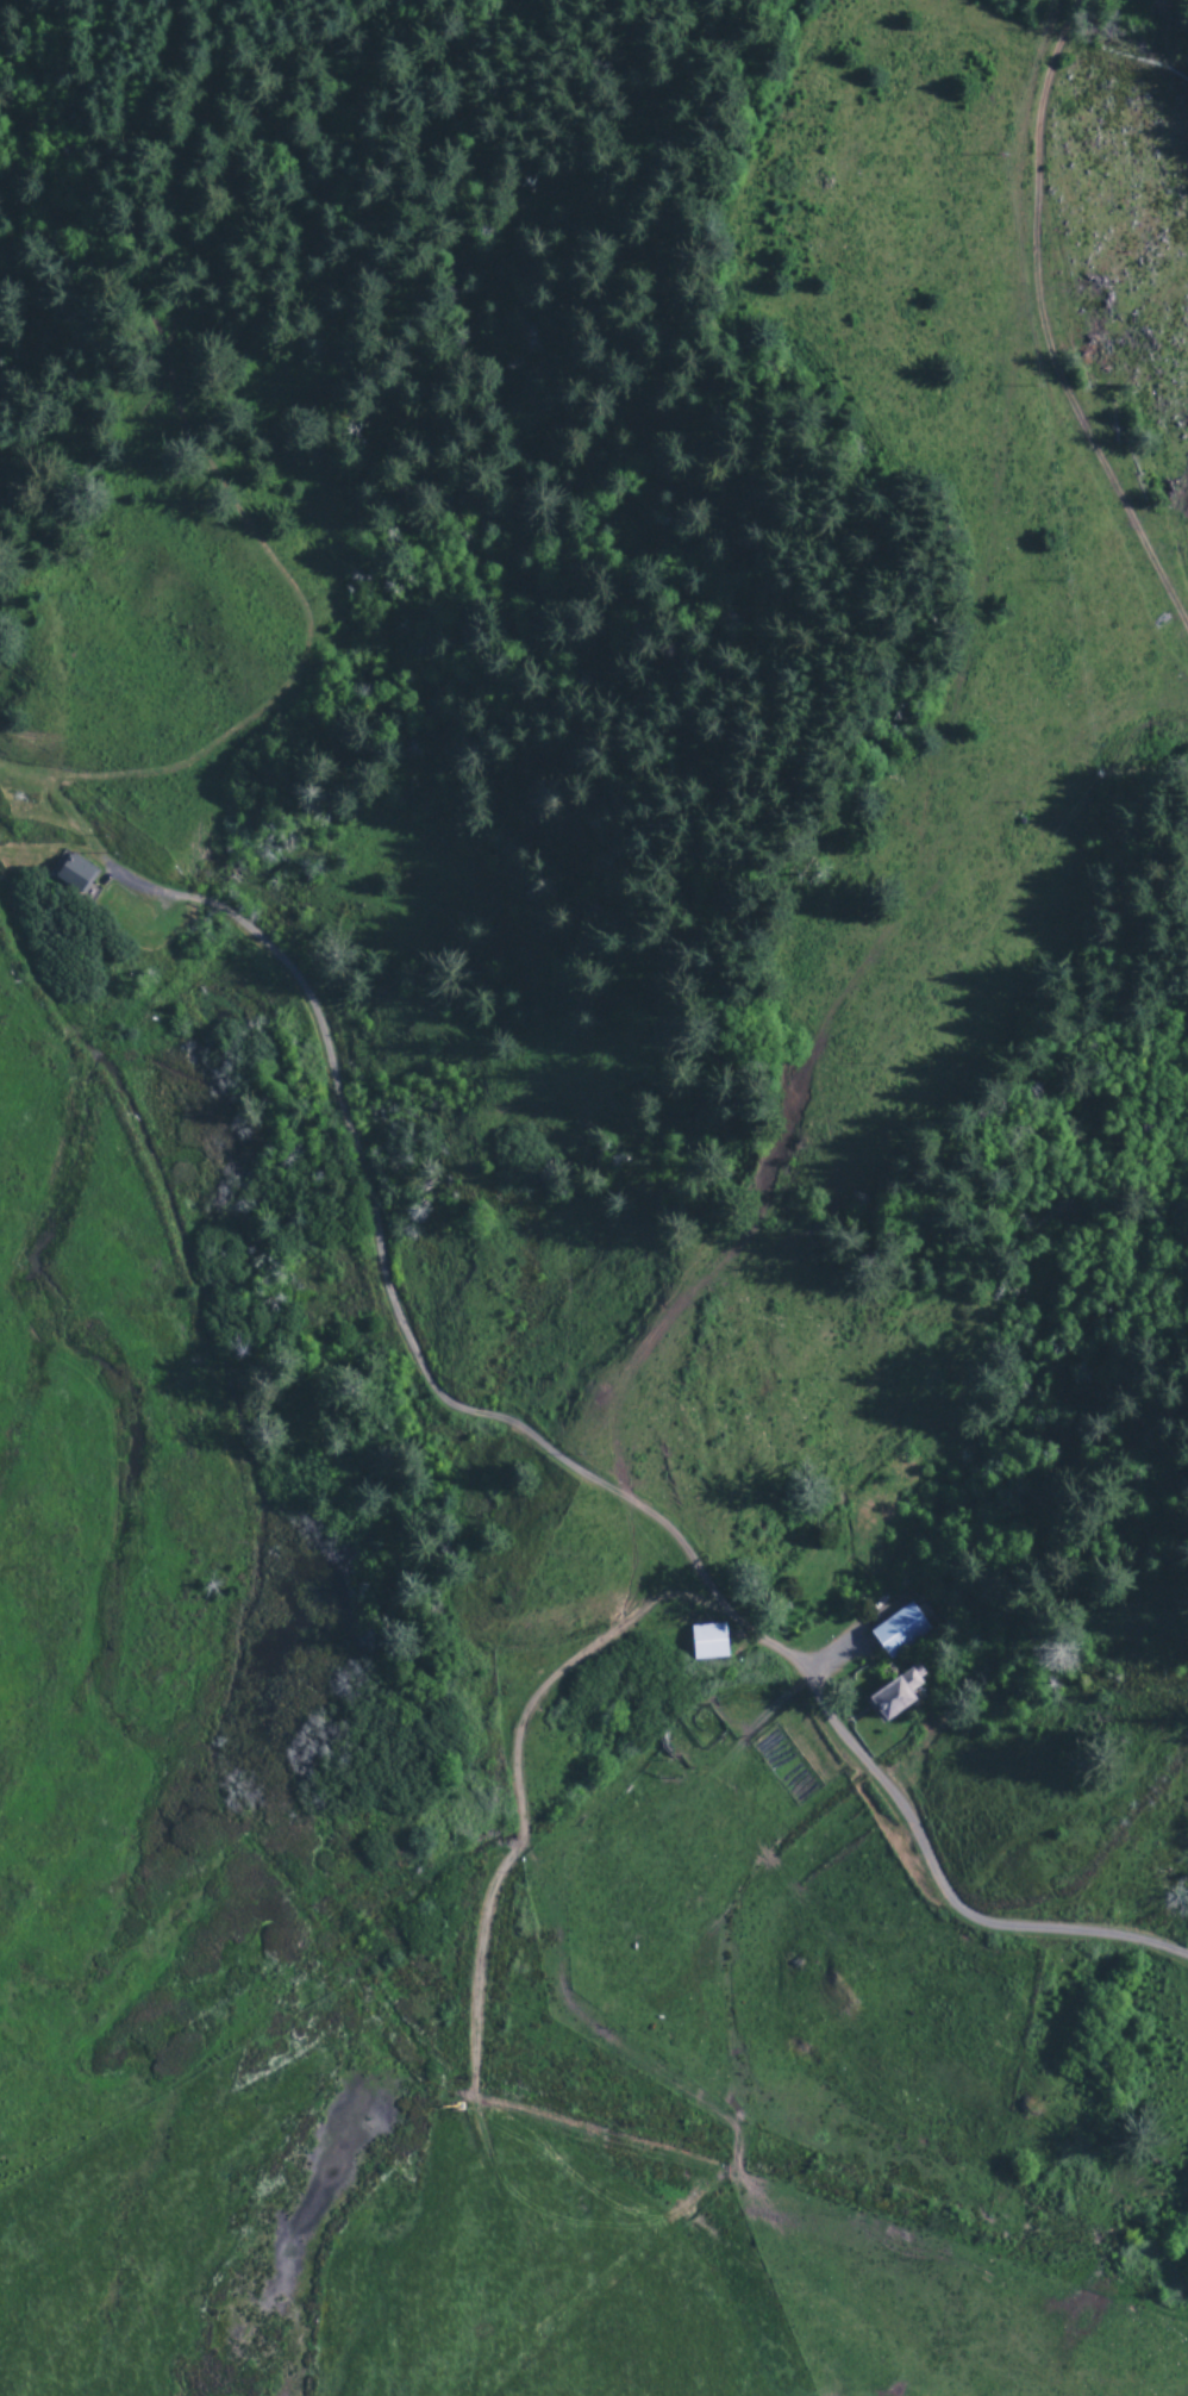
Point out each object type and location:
road: (1043, 327)
building: (76, 875)
building: (896, 1631)
building: (707, 1642)
building: (900, 1693)
road: (958, 1911)

